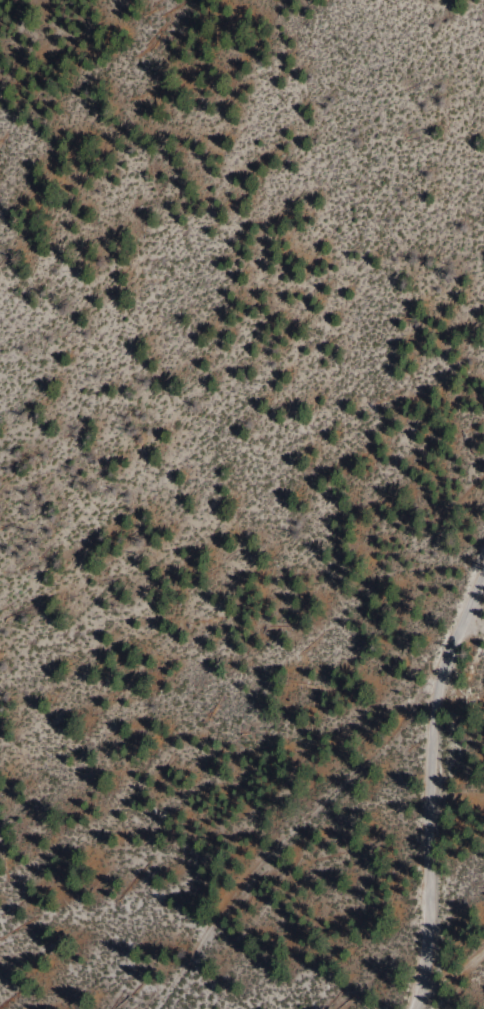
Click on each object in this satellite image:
road: (437, 786)
road: (454, 955)

